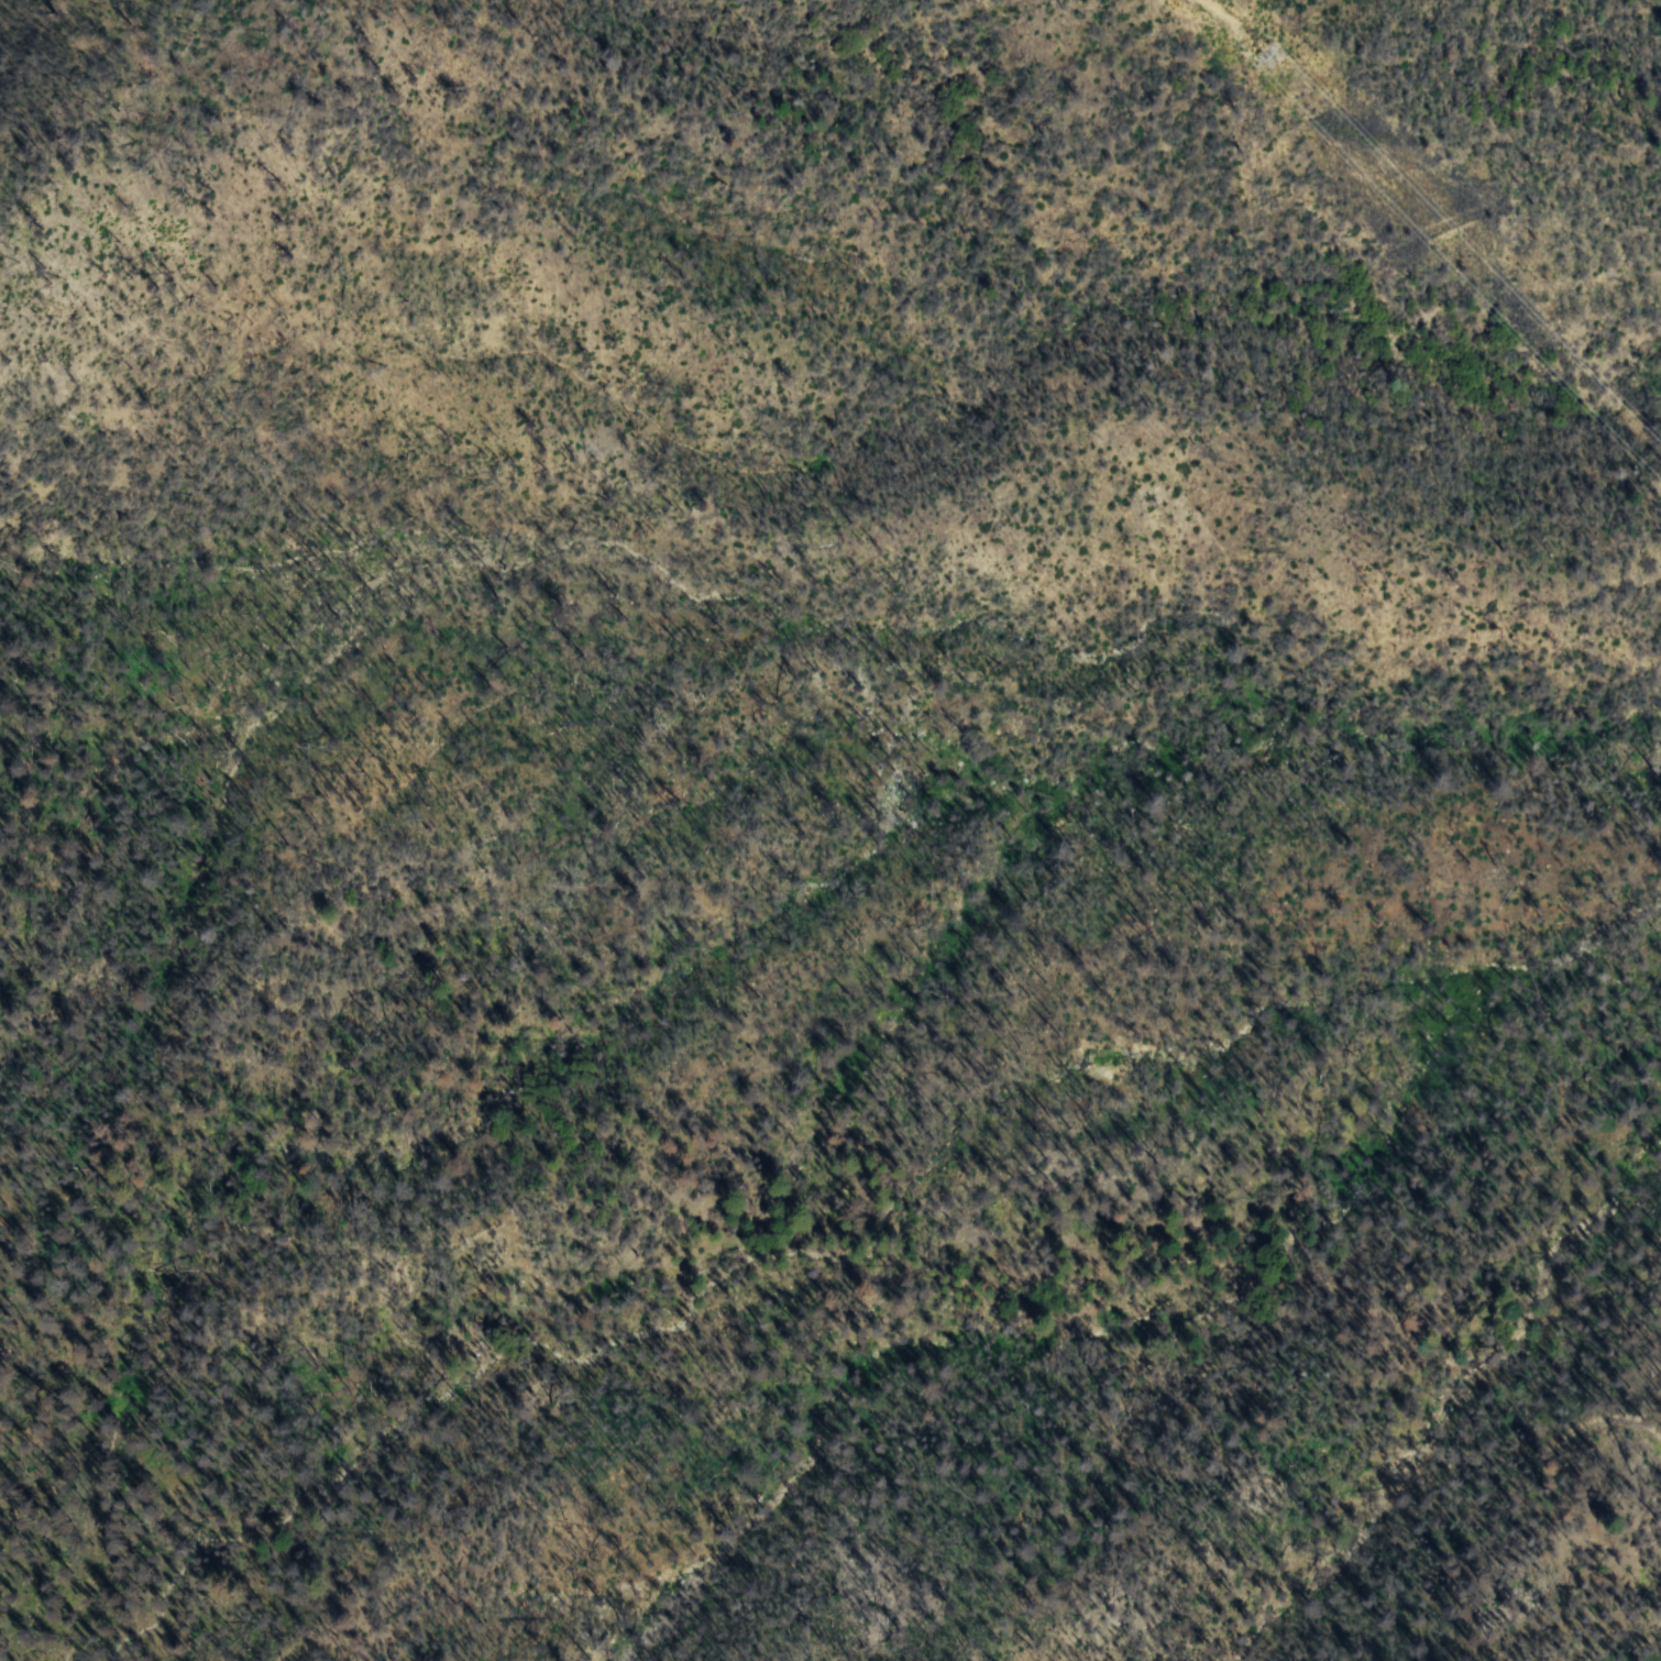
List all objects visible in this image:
power tower: (1276, 57)

